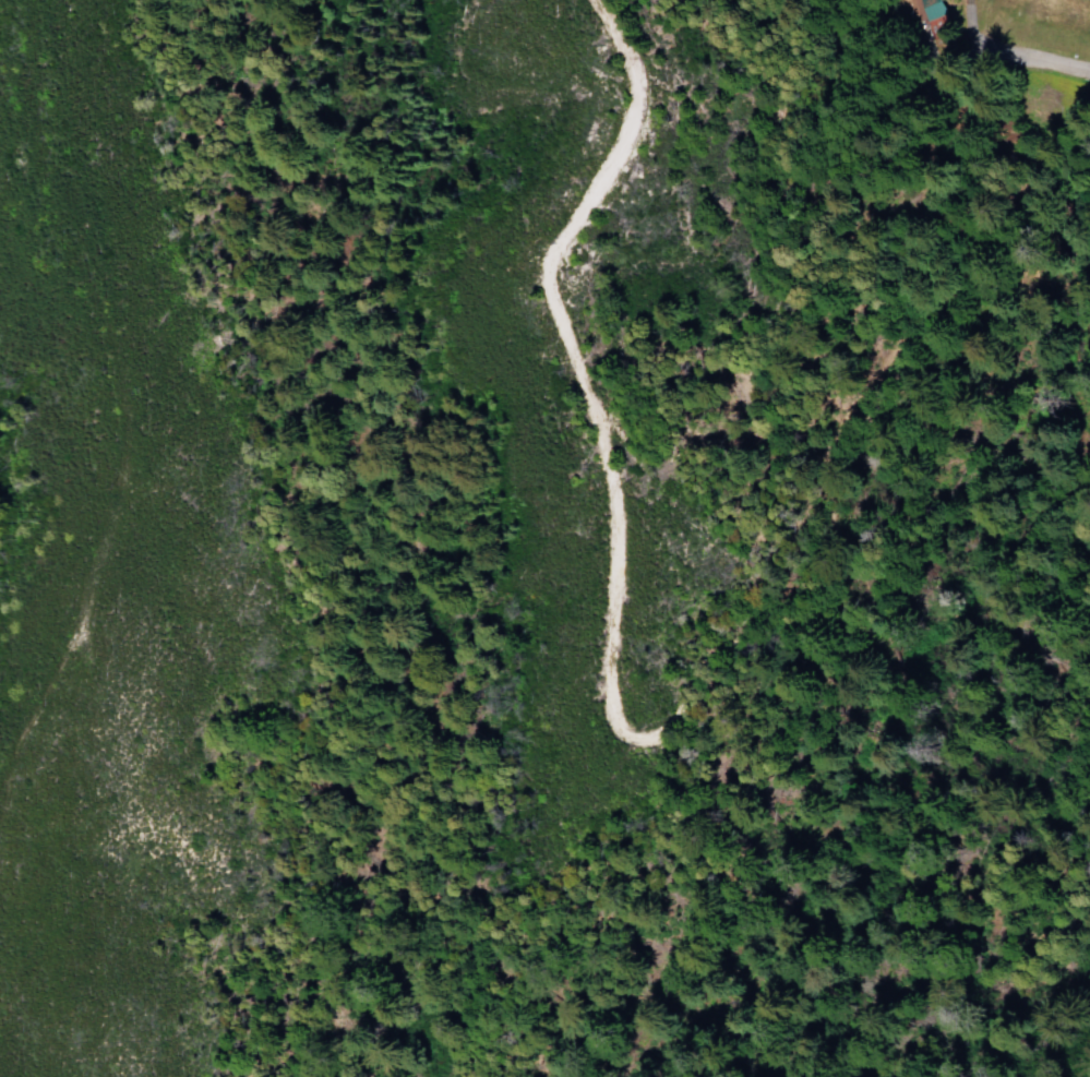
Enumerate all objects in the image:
dam: (1010, 5)
building: (929, 8)
road: (999, 64)
road: (128, 415)
road: (625, 727)
road: (599, 909)

